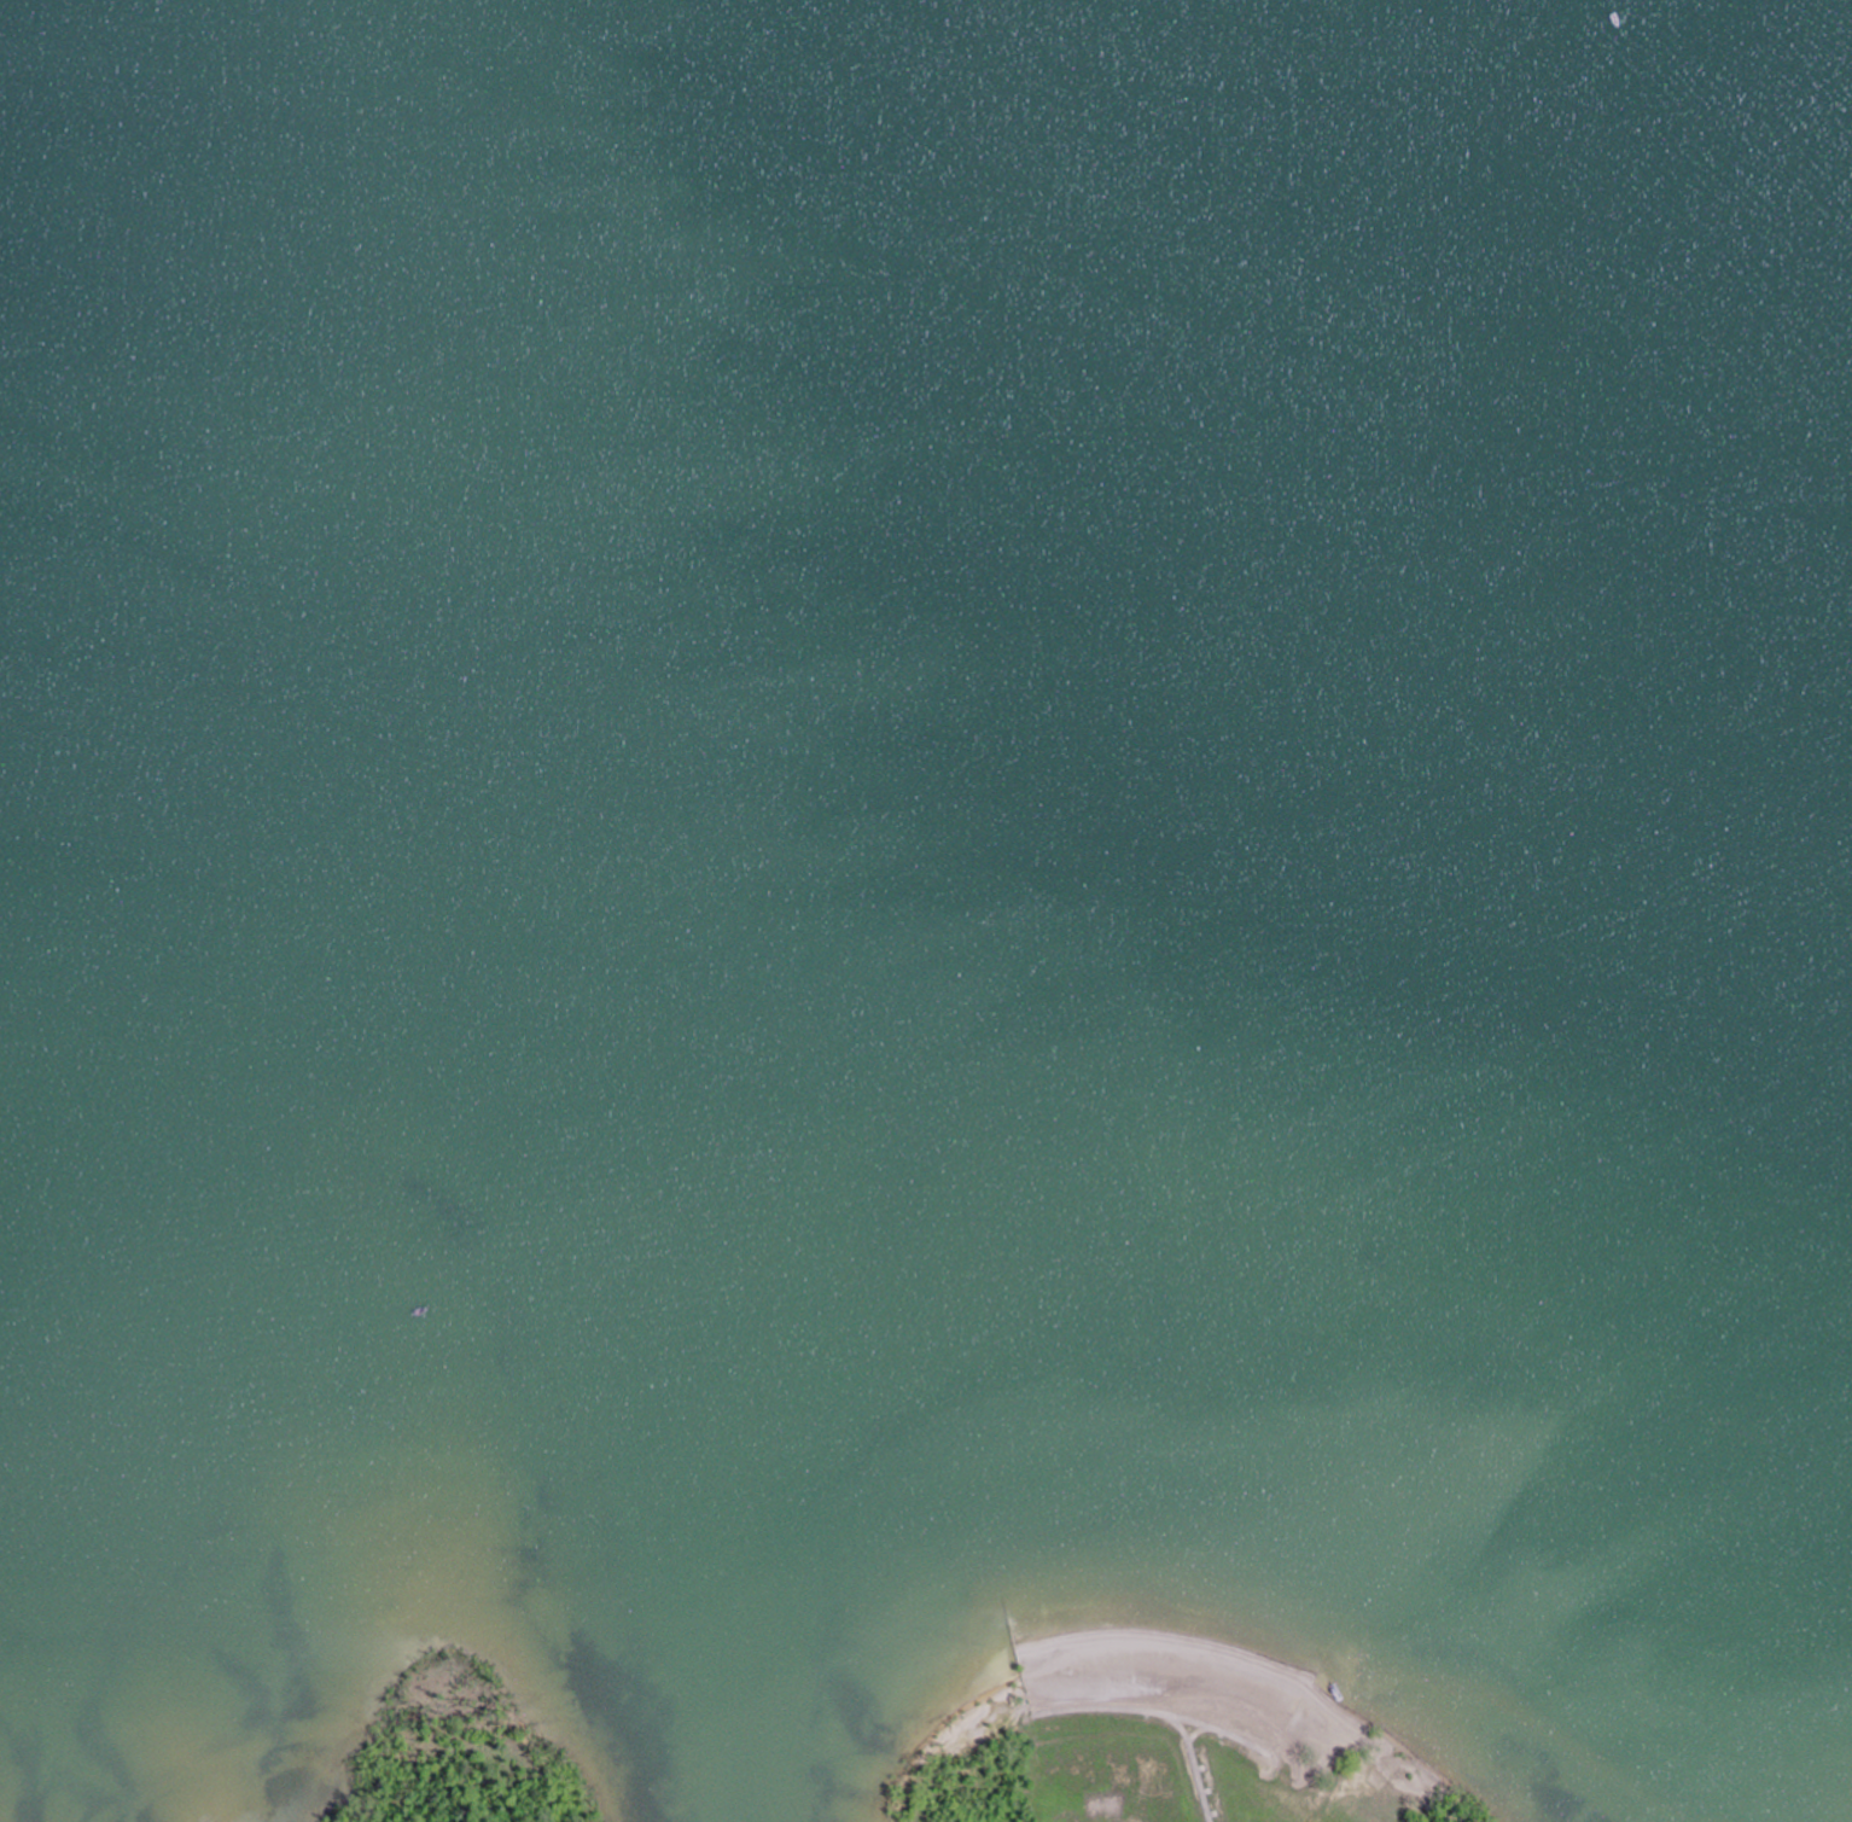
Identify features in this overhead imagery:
road: (1193, 1760)

